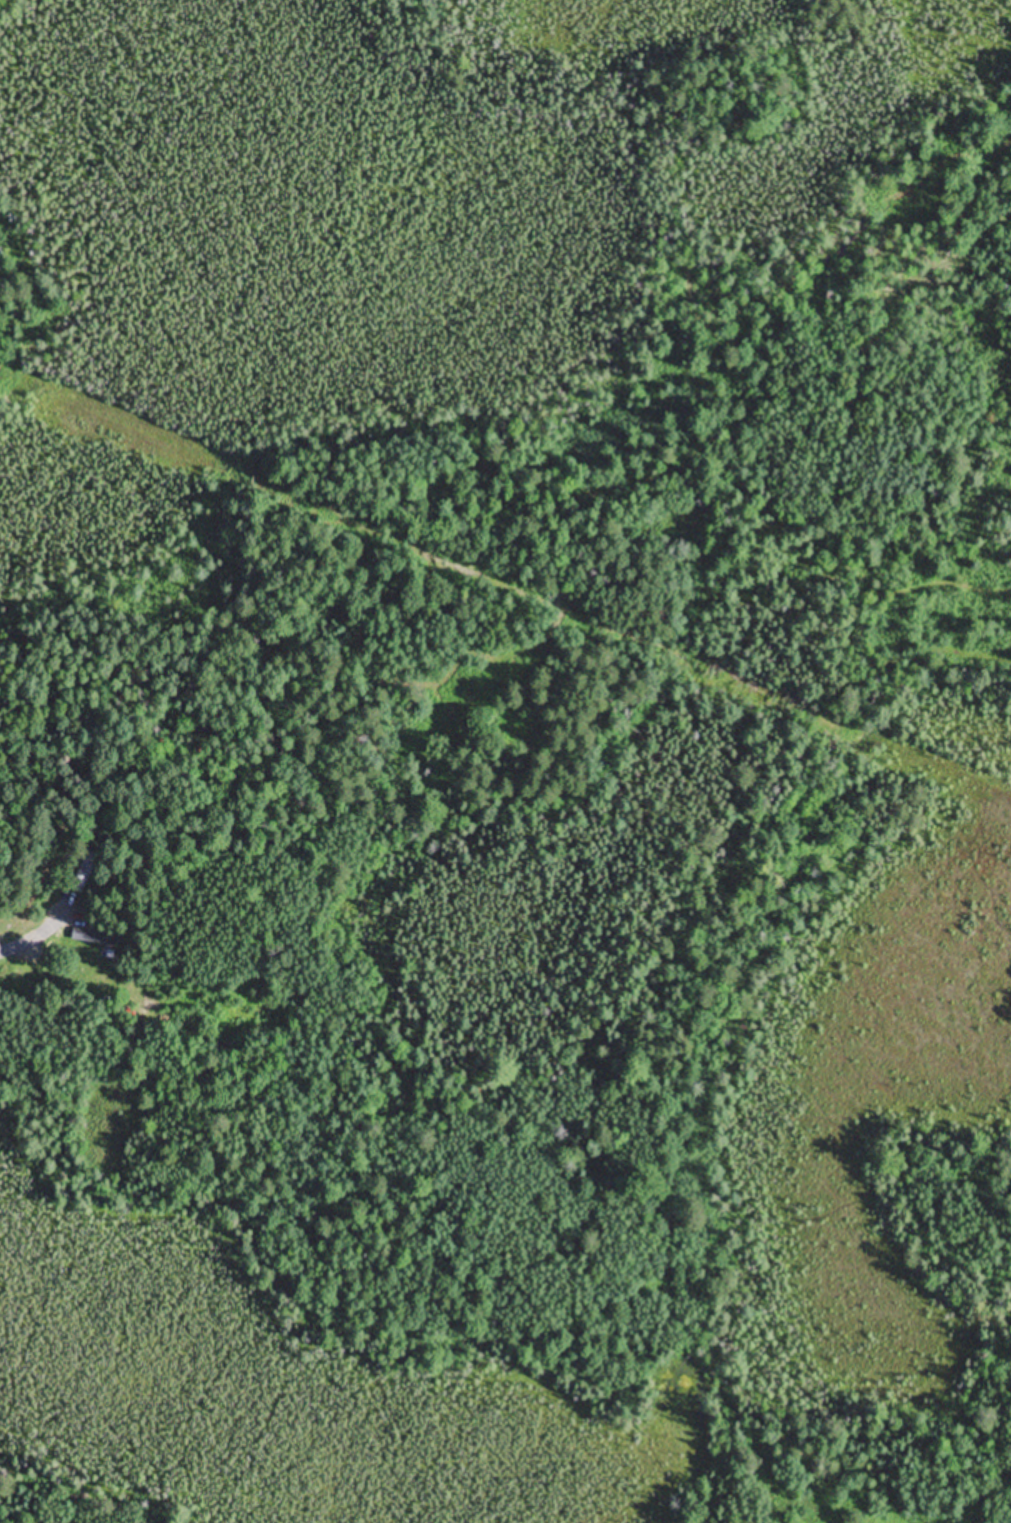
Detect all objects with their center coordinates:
building: (97, 938)
road: (35, 940)

